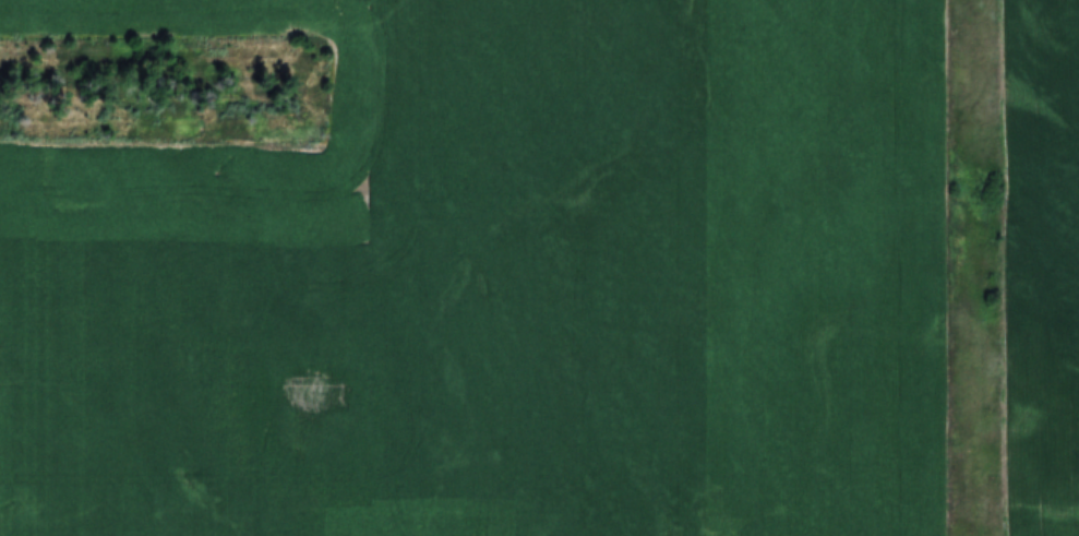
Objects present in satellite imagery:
crop: (495, 281)

